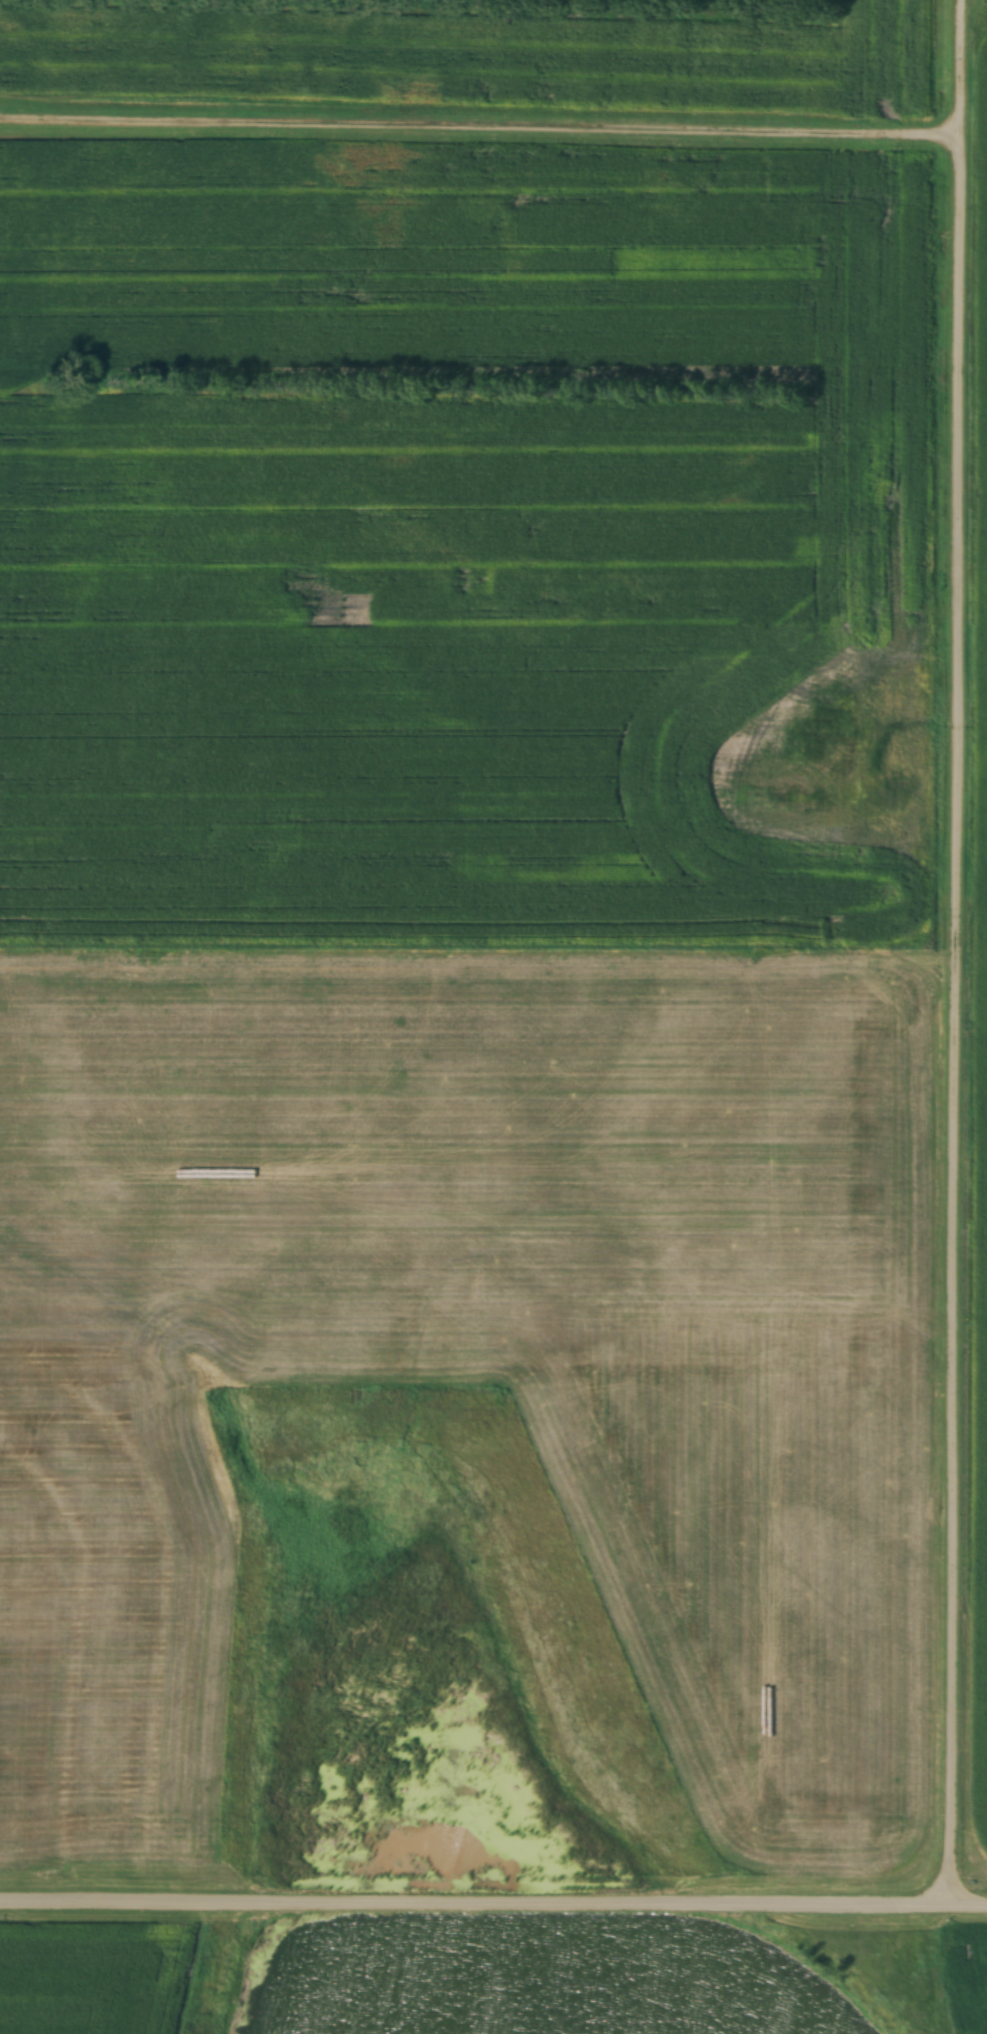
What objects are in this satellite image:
road: (967, 953)
road: (493, 1903)

